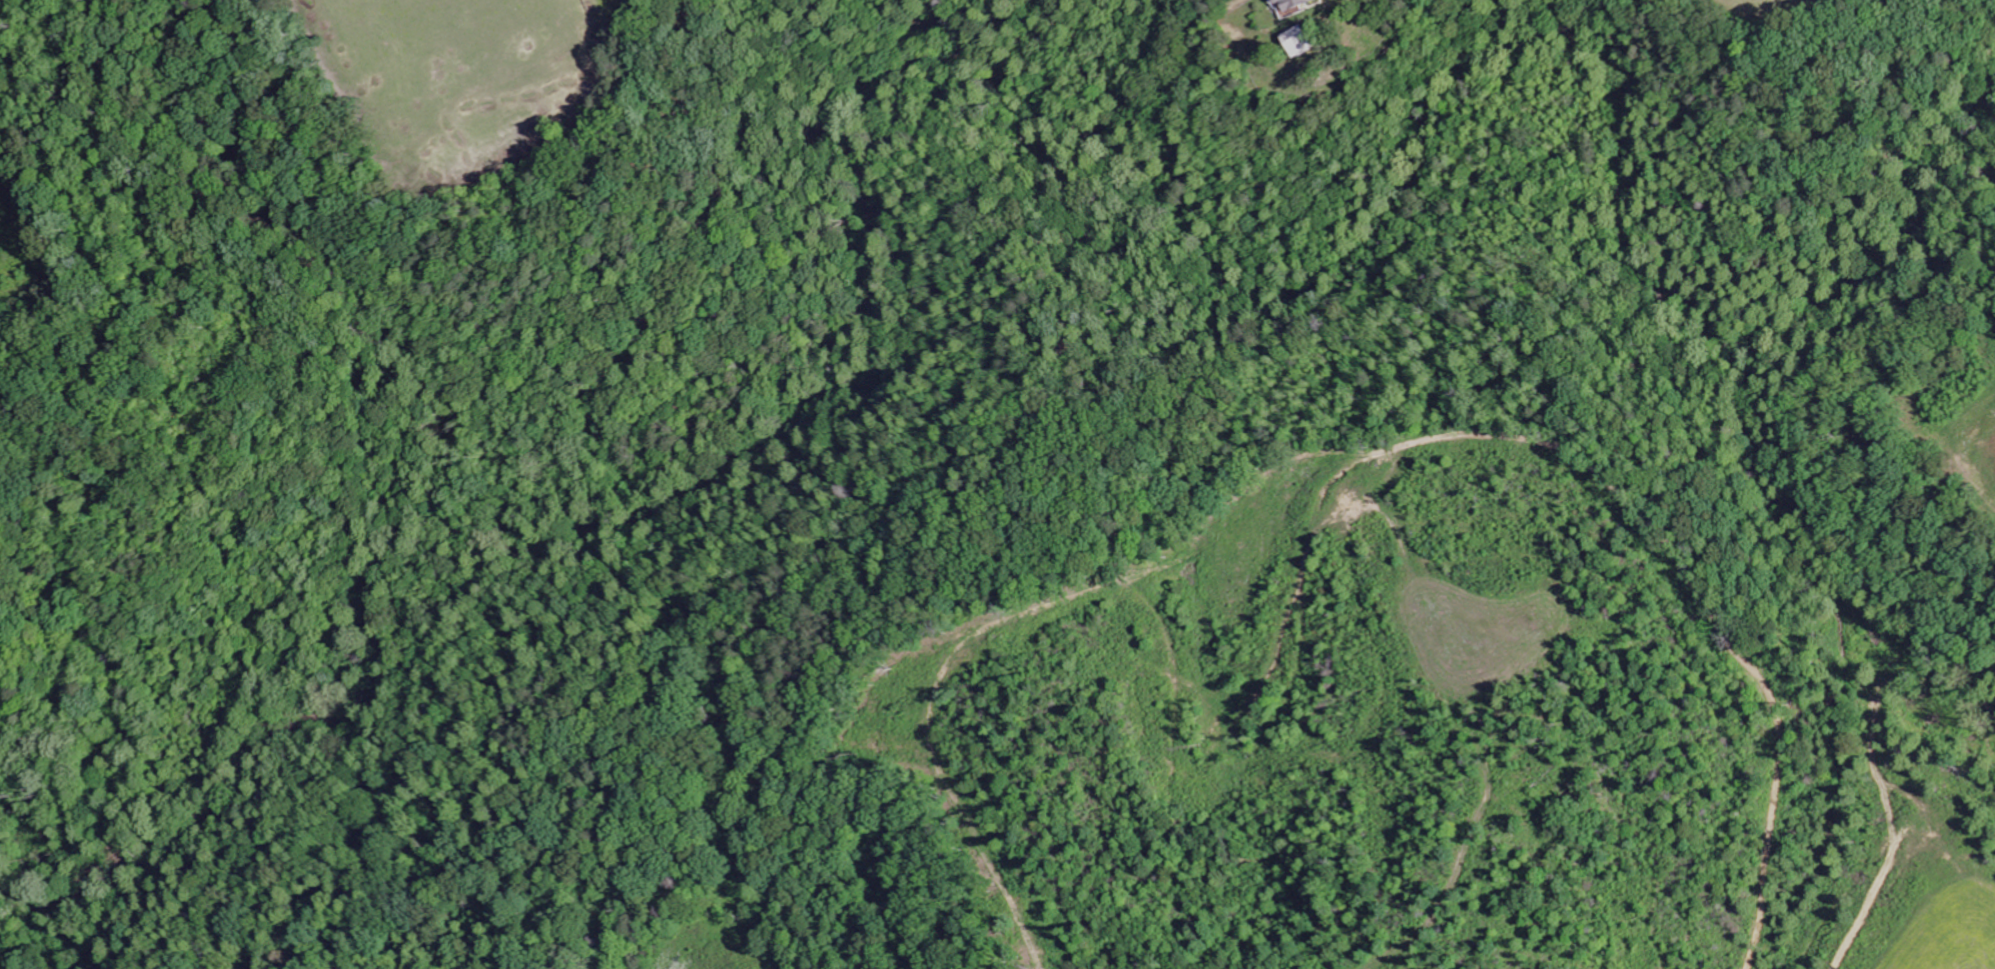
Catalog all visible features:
building: (1299, 42)

